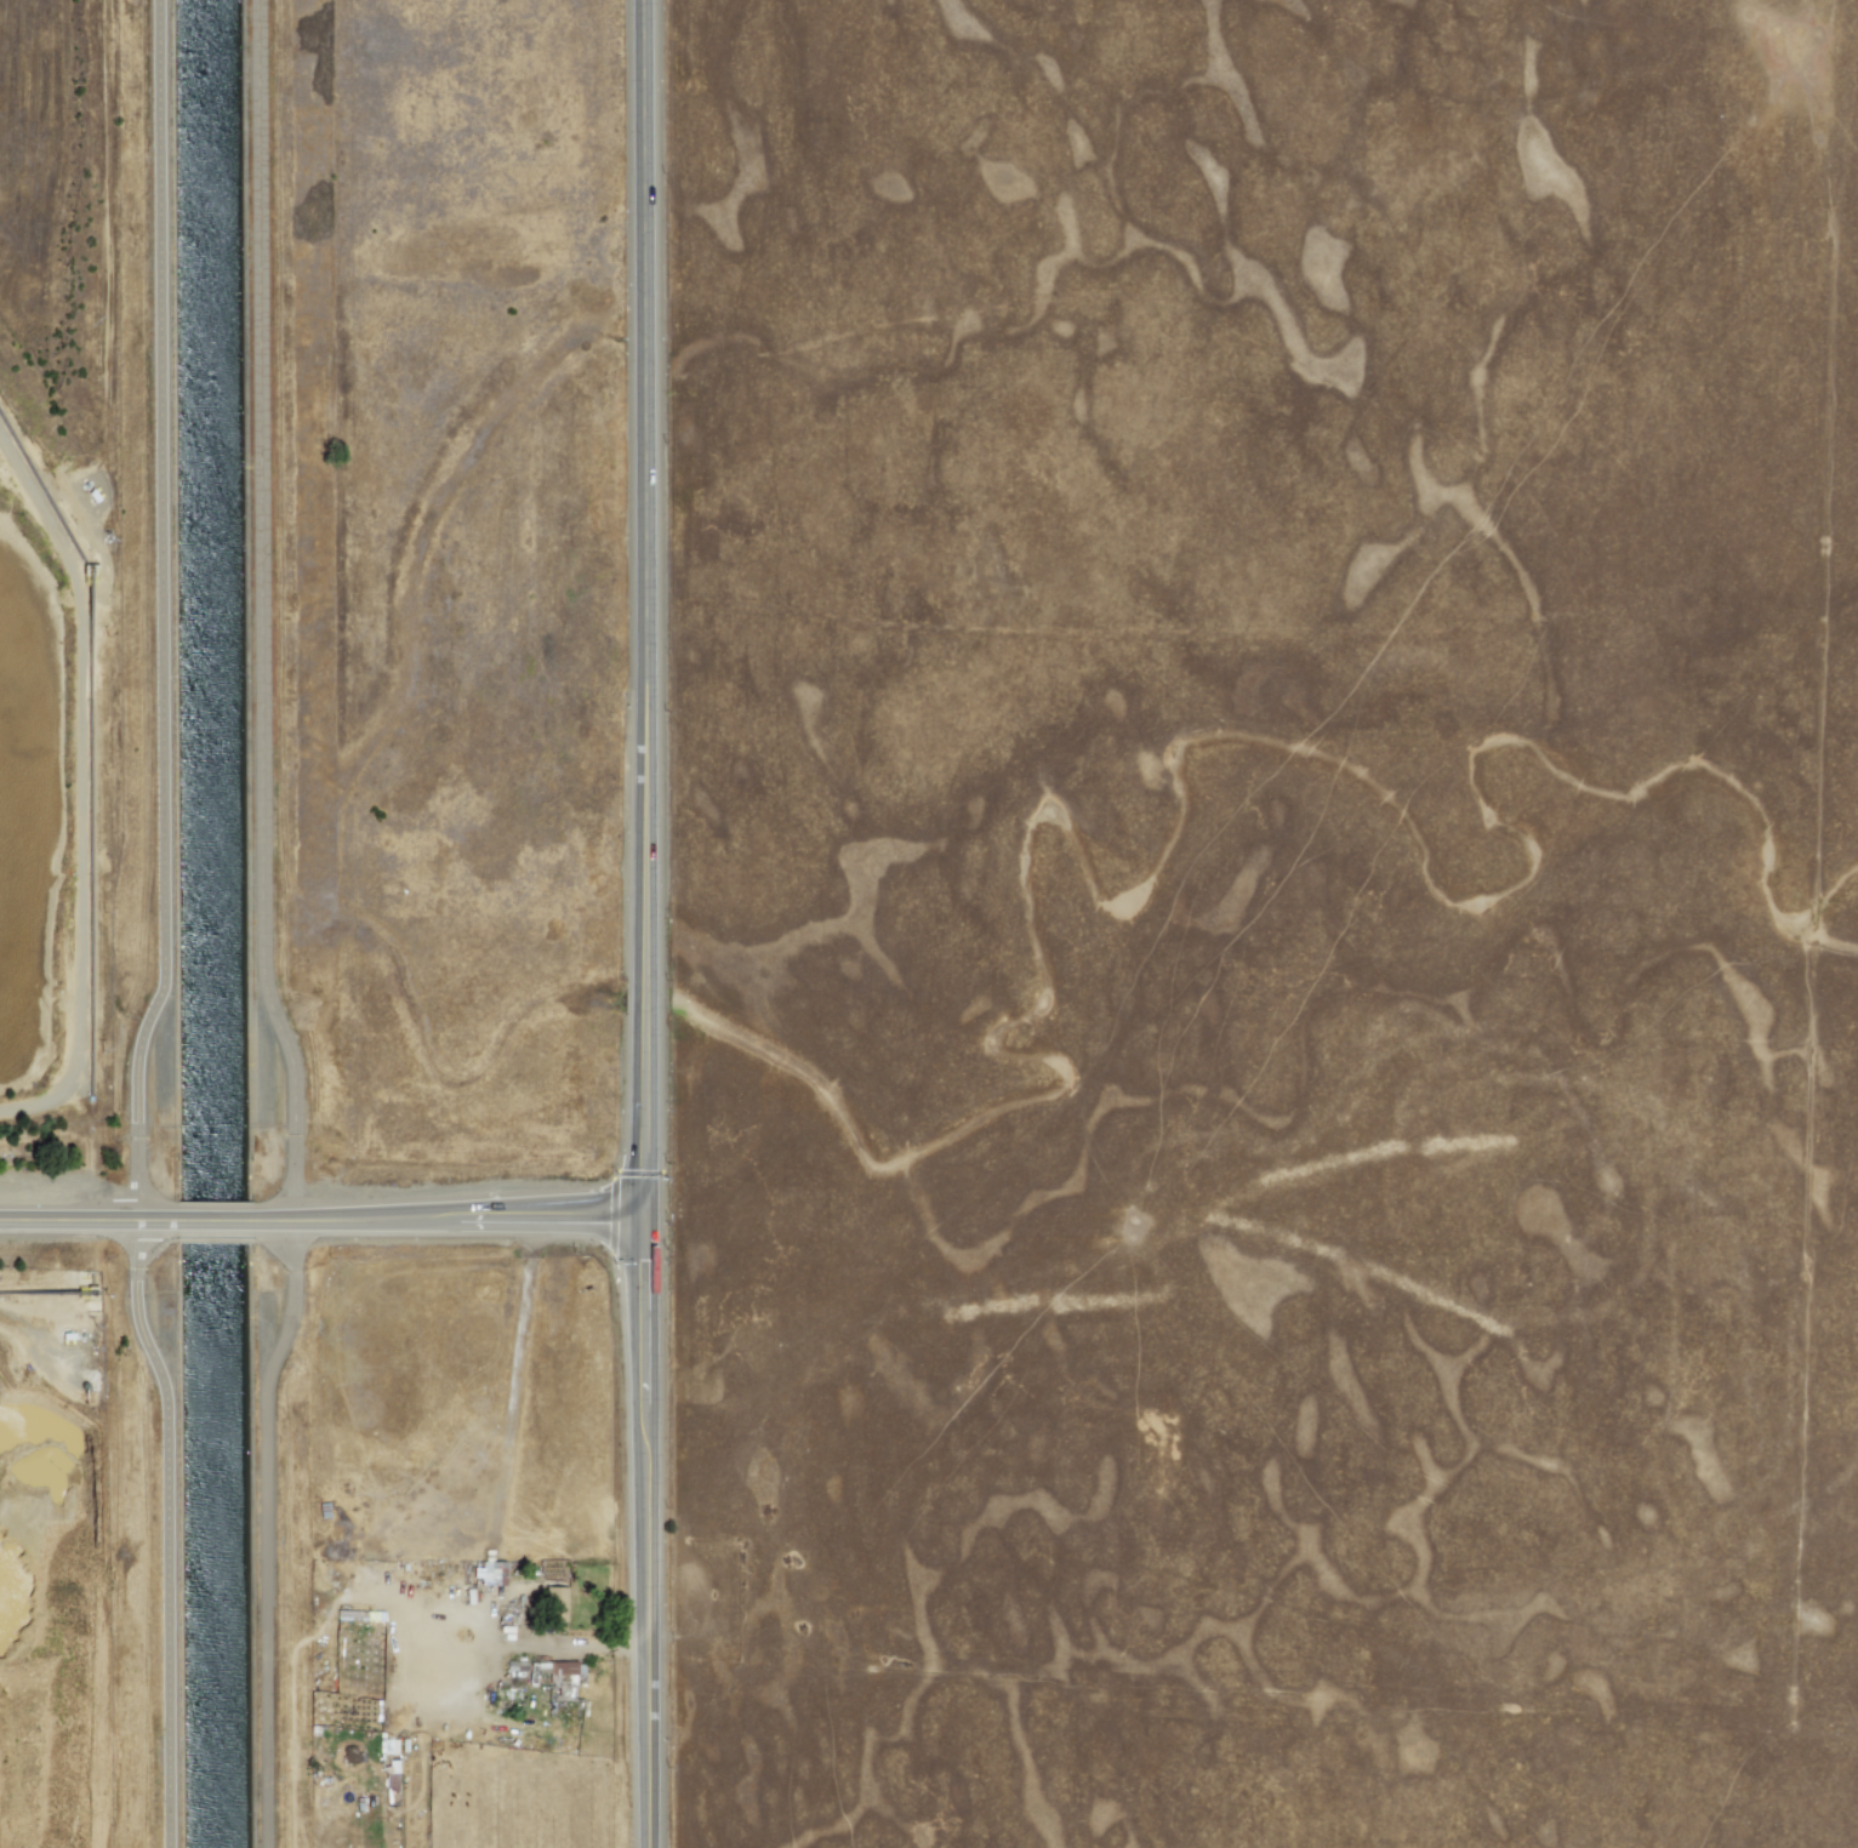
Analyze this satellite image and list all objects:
road: (652, 609)
road: (167, 929)
road: (264, 929)
road: (92, 1216)
road: (220, 1217)
road: (455, 1219)
crop: (448, 1519)
road: (657, 1533)
building: (488, 1573)
road: (538, 1645)

